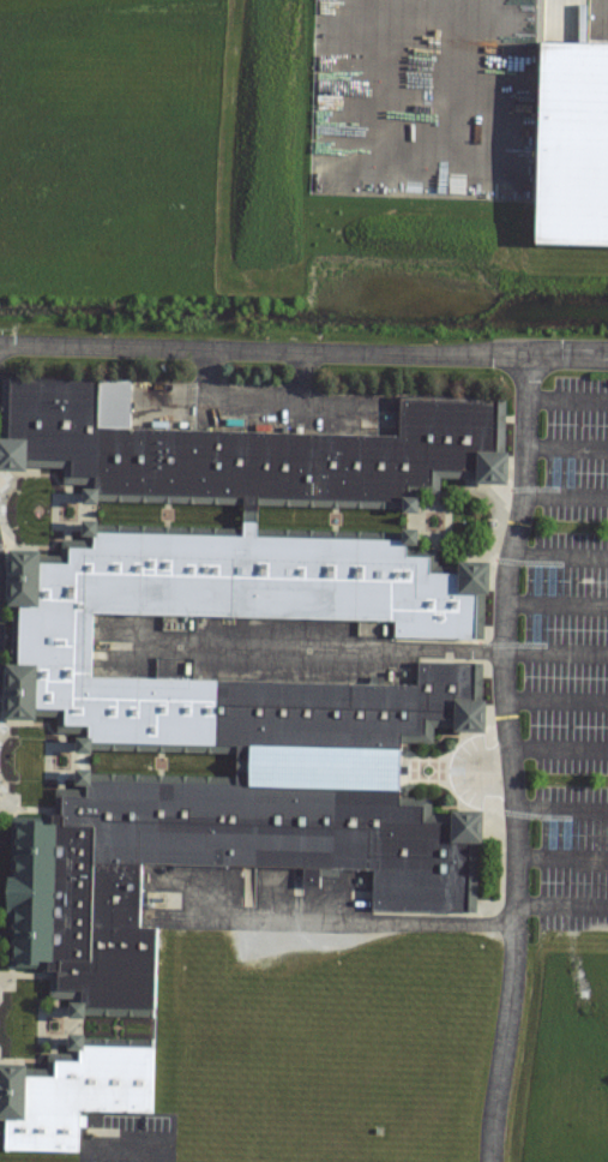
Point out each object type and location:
road: (303, 351)
road: (566, 397)
road: (565, 449)
building: (253, 453)
road: (564, 493)
road: (559, 555)
road: (556, 603)
road: (504, 631)
road: (555, 653)
road: (556, 699)
road: (559, 750)
road: (561, 808)
road: (561, 858)
road: (502, 987)

